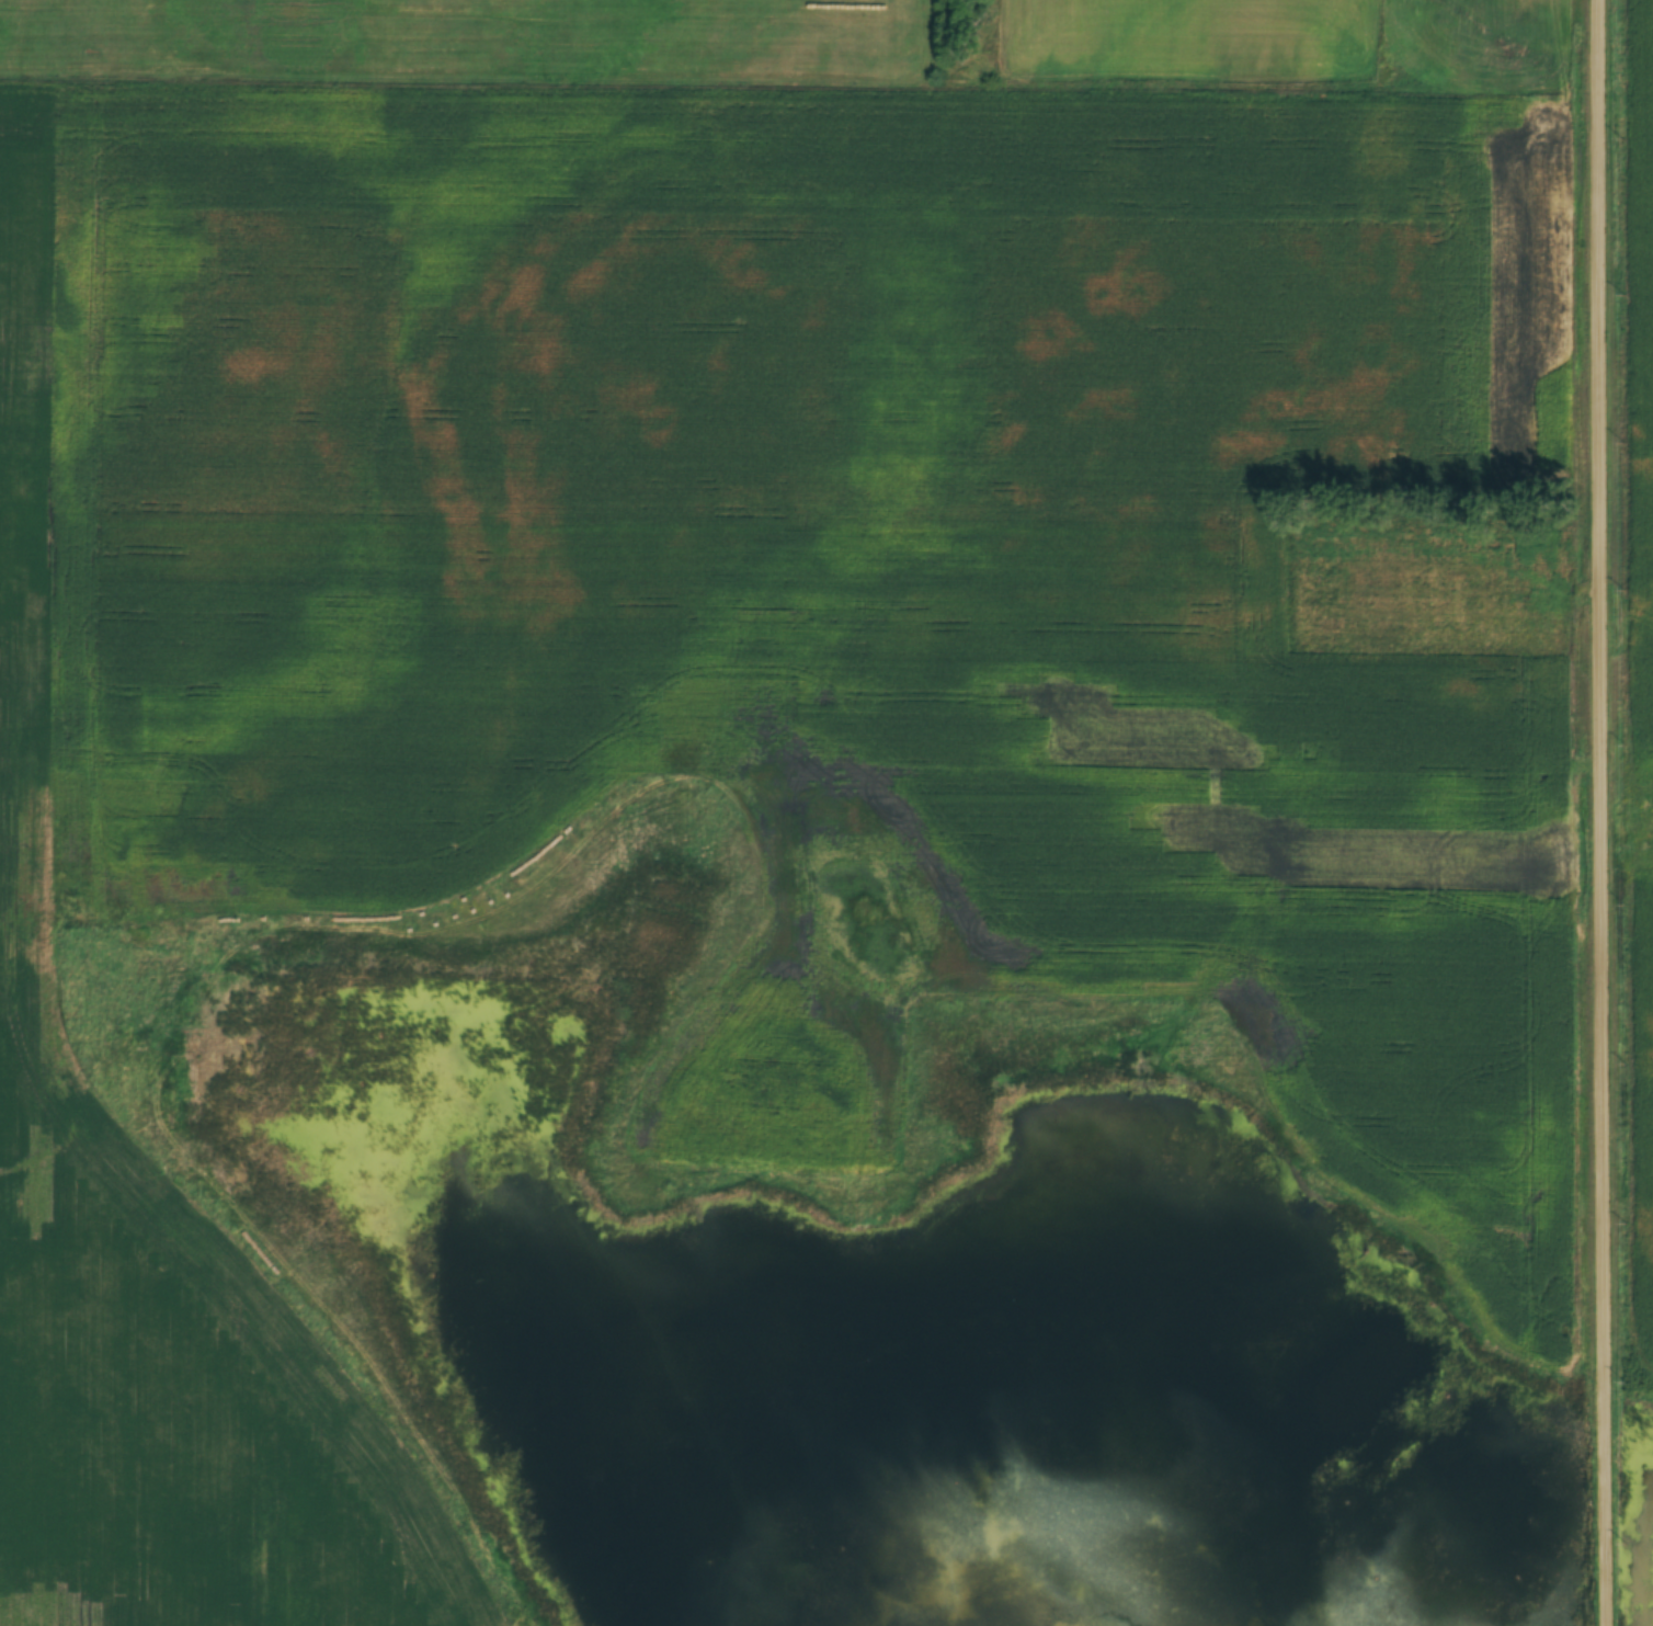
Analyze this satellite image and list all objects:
road: (1604, 812)

